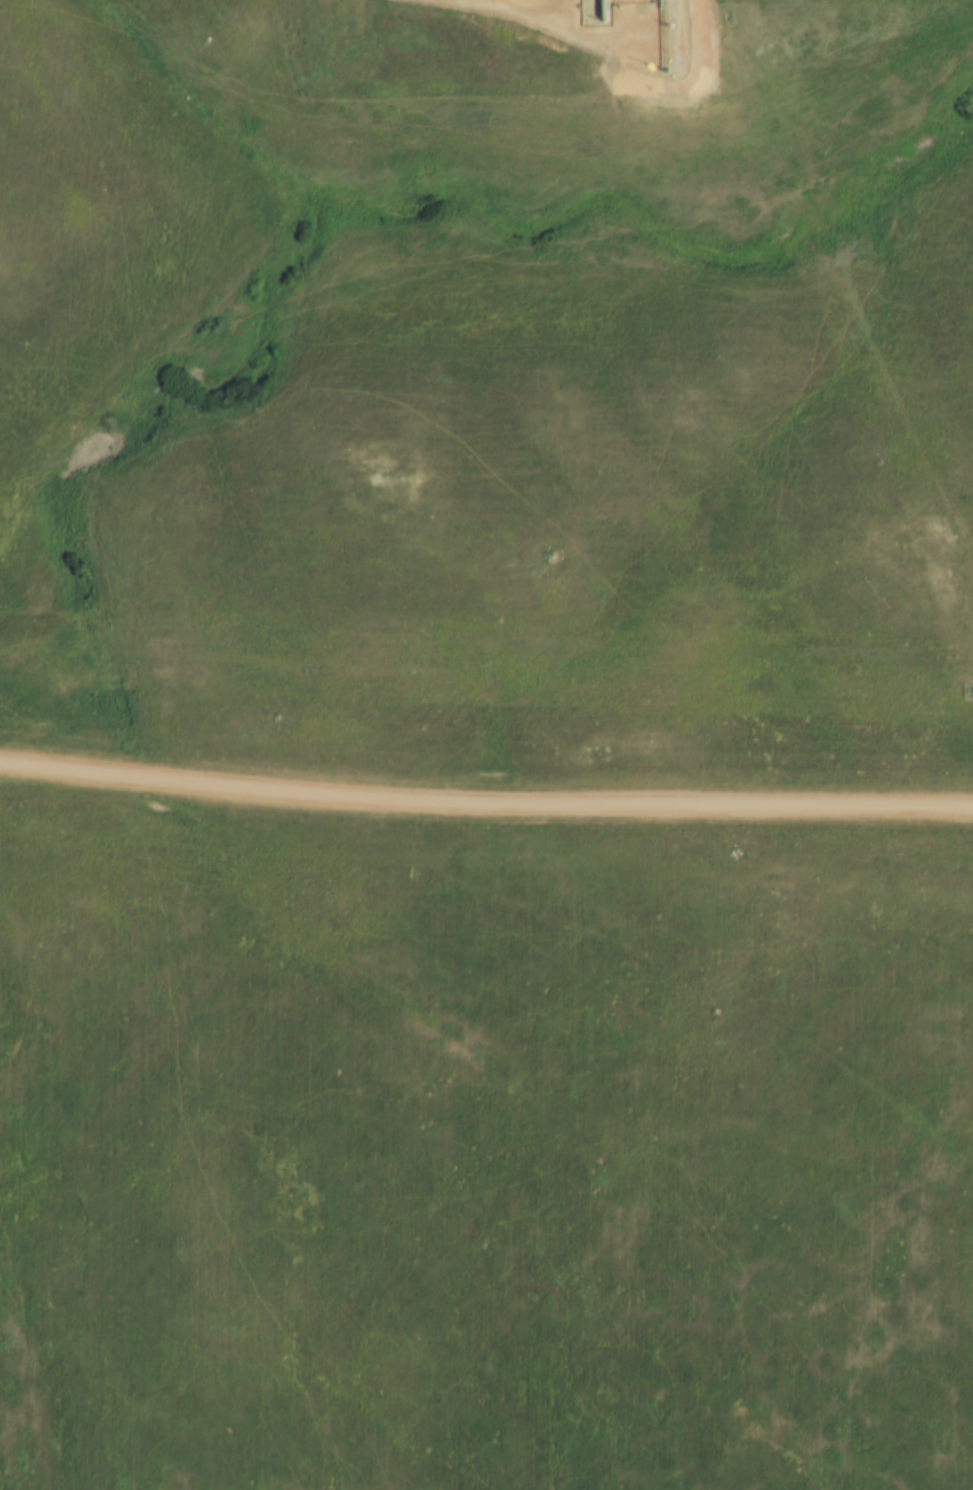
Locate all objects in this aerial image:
road: (485, 806)

